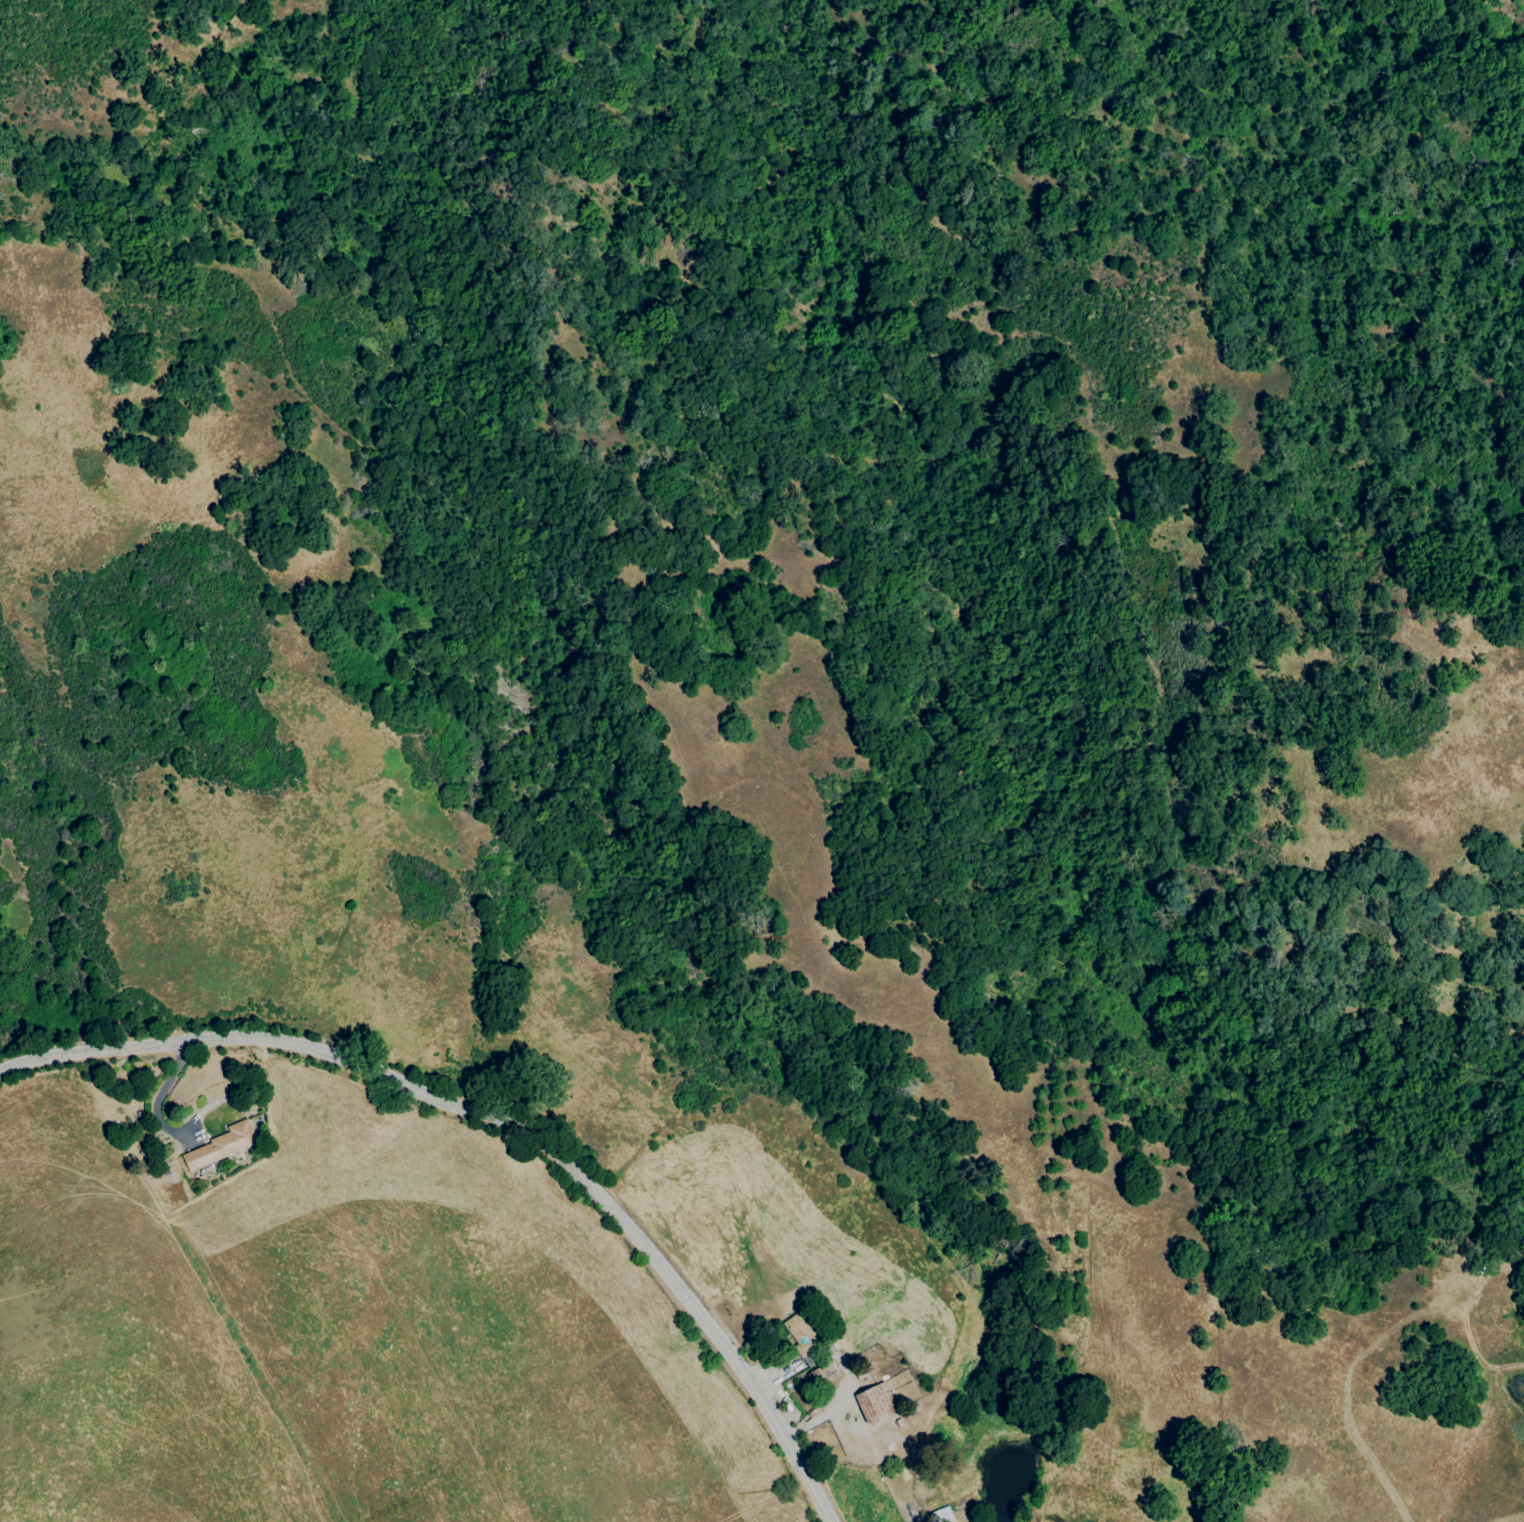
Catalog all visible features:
road: (316, 1051)
road: (156, 1099)
building: (225, 1146)
building: (799, 1336)
road: (729, 1348)
building: (823, 1374)
building: (877, 1403)
road: (826, 1410)
building: (944, 1514)

